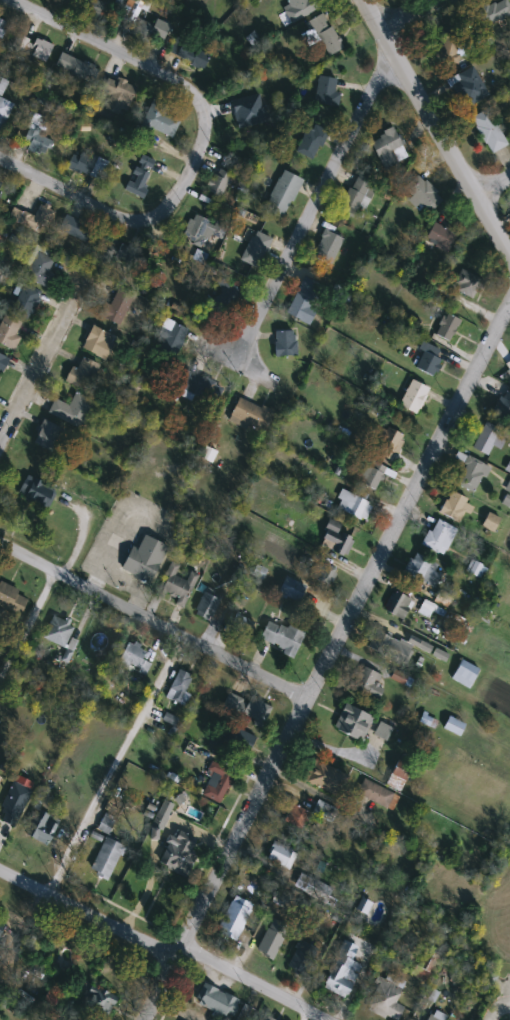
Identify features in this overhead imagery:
building: (95, 8)
building: (296, 11)
building: (495, 11)
road: (405, 14)
building: (142, 22)
building: (2, 28)
building: (322, 31)
building: (449, 48)
building: (189, 54)
building: (76, 67)
building: (2, 85)
building: (468, 87)
building: (326, 91)
building: (118, 94)
building: (249, 111)
building: (160, 120)
building: (2, 121)
road: (438, 127)
building: (490, 131)
building: (35, 134)
building: (311, 141)
road: (197, 147)
building: (389, 150)
building: (86, 165)
building: (140, 176)
building: (218, 183)
road: (493, 185)
building: (1, 186)
building: (422, 194)
building: (282, 195)
building: (356, 196)
road: (315, 205)
building: (41, 217)
building: (77, 229)
building: (202, 229)
building: (441, 237)
building: (328, 247)
building: (255, 249)
building: (39, 266)
building: (465, 282)
building: (225, 295)
building: (305, 300)
building: (25, 302)
building: (117, 306)
building: (448, 327)
building: (8, 332)
building: (171, 335)
building: (98, 344)
building: (285, 344)
road: (237, 360)
building: (429, 360)
road: (41, 361)
building: (2, 362)
building: (508, 365)
building: (83, 373)
building: (200, 388)
building: (414, 397)
building: (504, 405)
building: (72, 410)
building: (251, 416)
building: (49, 436)
building: (485, 439)
building: (387, 444)
building: (370, 474)
building: (471, 475)
building: (36, 492)
building: (353, 505)
building: (455, 507)
building: (439, 537)
building: (335, 539)
road: (82, 540)
building: (144, 559)
building: (423, 570)
building: (323, 572)
building: (177, 586)
building: (291, 588)
building: (11, 602)
building: (206, 606)
building: (398, 606)
road: (155, 622)
building: (241, 625)
road: (28, 626)
building: (57, 633)
building: (281, 638)
building: (390, 646)
building: (134, 659)
road: (330, 662)
building: (465, 674)
building: (368, 682)
building: (178, 686)
building: (256, 710)
building: (353, 722)
building: (454, 726)
building: (383, 729)
building: (237, 743)
road: (114, 764)
building: (398, 774)
building: (0, 777)
building: (325, 777)
building: (218, 781)
building: (378, 795)
building: (14, 802)
building: (324, 811)
building: (295, 816)
building: (43, 828)
building: (180, 855)
building: (281, 856)
building: (106, 859)
building: (312, 888)
building: (235, 918)
building: (2, 925)
building: (269, 944)
road: (164, 945)
building: (301, 958)
building: (342, 971)
building: (386, 998)
building: (92, 999)
building: (216, 1001)
road: (494, 1006)
parking lot: (508, 1006)
road: (300, 1013)
building: (437, 1016)
building: (268, 1018)
parking lot: (502, 1019)

